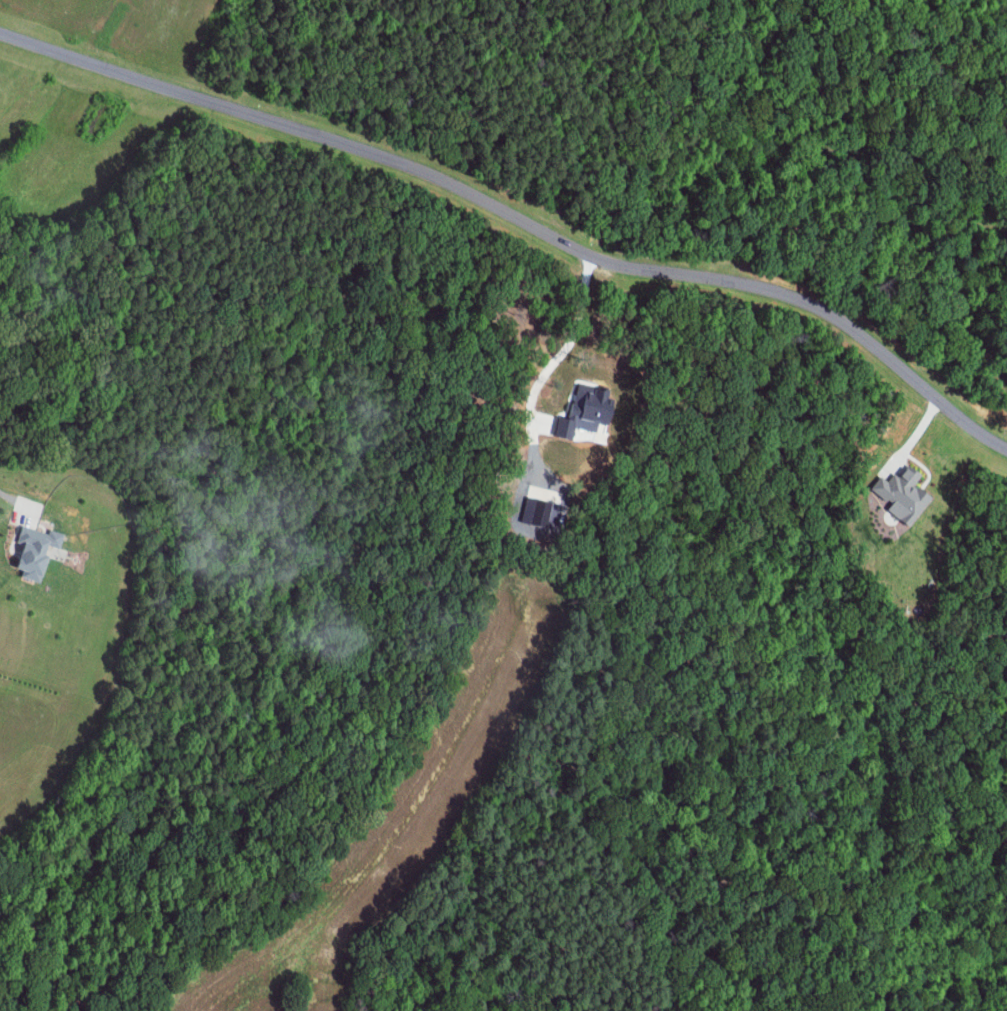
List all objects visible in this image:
road: (518, 217)
road: (567, 345)
building: (584, 414)
road: (910, 430)
building: (895, 483)
road: (20, 500)
building: (541, 515)
building: (34, 545)

